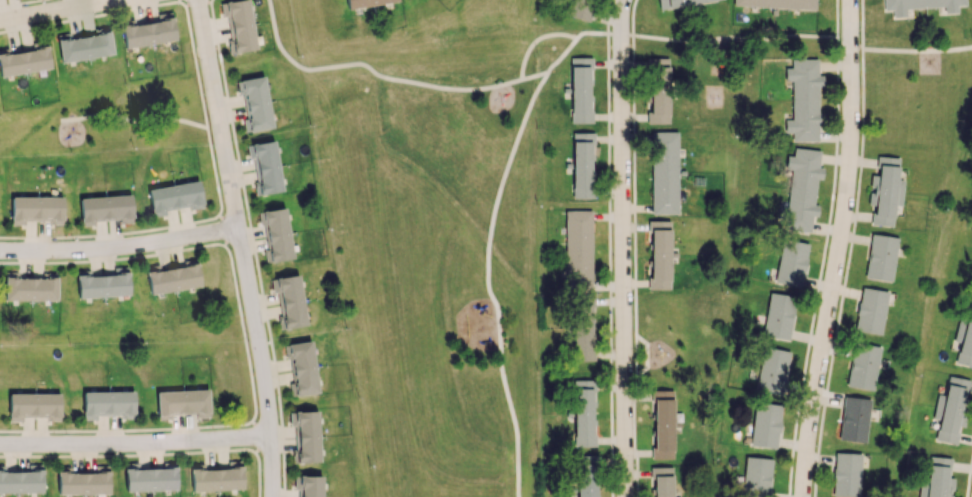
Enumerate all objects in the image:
road: (178, 0)
building: (364, 2)
building: (680, 2)
road: (19, 3)
building: (777, 3)
road: (182, 4)
road: (198, 5)
building: (919, 5)
road: (55, 9)
building: (579, 9)
road: (607, 16)
road: (621, 19)
building: (238, 25)
building: (149, 32)
road: (591, 32)
road: (620, 33)
road: (734, 38)
road: (536, 40)
building: (84, 45)
road: (917, 50)
road: (563, 56)
building: (24, 60)
road: (220, 60)
road: (196, 67)
road: (372, 70)
road: (534, 75)
building: (579, 90)
building: (658, 91)
building: (803, 100)
building: (254, 103)
road: (133, 120)
road: (218, 124)
building: (265, 165)
building: (582, 165)
building: (663, 172)
building: (801, 189)
building: (884, 191)
building: (173, 197)
building: (105, 208)
building: (35, 209)
building: (277, 234)
road: (241, 247)
road: (120, 249)
building: (577, 249)
road: (838, 249)
road: (847, 249)
building: (659, 254)
building: (880, 257)
building: (790, 262)
road: (622, 268)
building: (172, 277)
road: (488, 281)
building: (101, 284)
building: (29, 287)
building: (289, 299)
road: (264, 308)
building: (870, 310)
building: (778, 315)
building: (582, 327)
building: (966, 339)
building: (862, 366)
building: (303, 368)
building: (771, 370)
building: (183, 402)
building: (106, 403)
building: (33, 405)
building: (952, 408)
building: (583, 413)
building: (853, 418)
building: (662, 423)
building: (765, 424)
building: (306, 434)
road: (135, 448)
building: (846, 474)
building: (586, 476)
building: (216, 477)
building: (756, 477)
building: (938, 477)
road: (969, 477)
building: (22, 480)
building: (83, 481)
building: (661, 481)
building: (310, 486)

